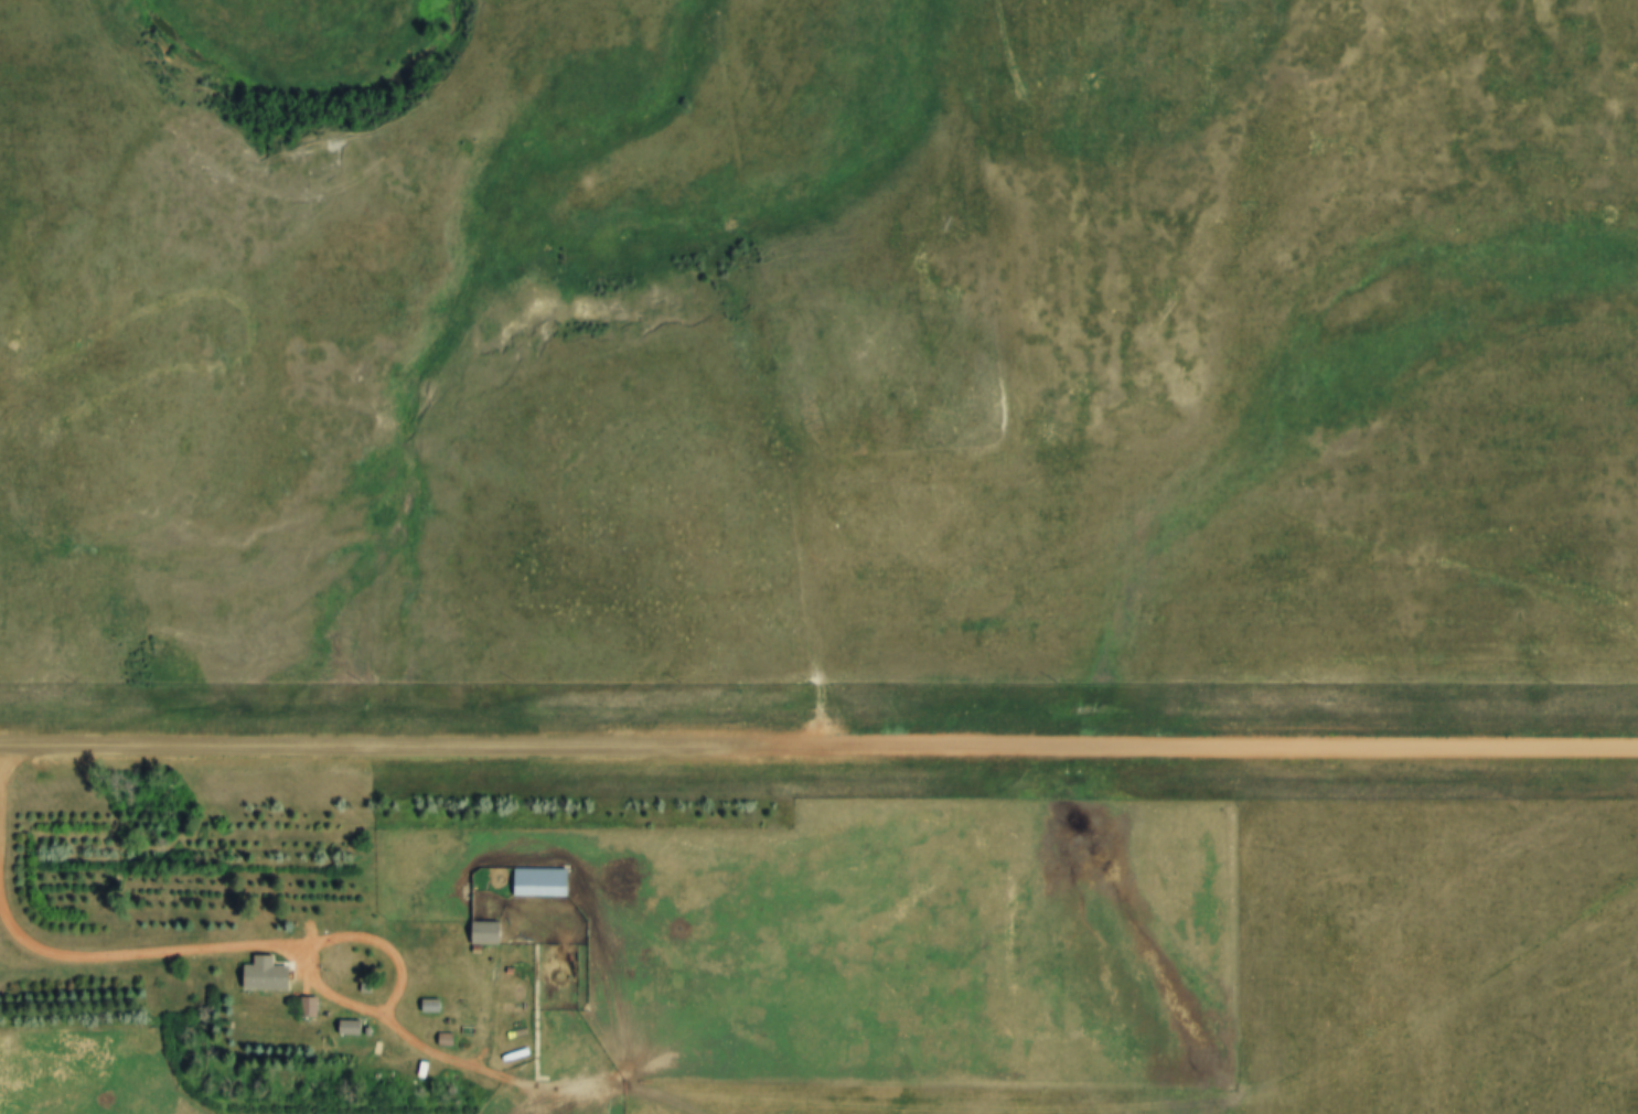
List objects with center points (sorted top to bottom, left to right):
road: (818, 753)
building: (537, 881)
building: (481, 932)
road: (233, 952)
building: (257, 977)
building: (306, 1007)
building: (346, 1028)

